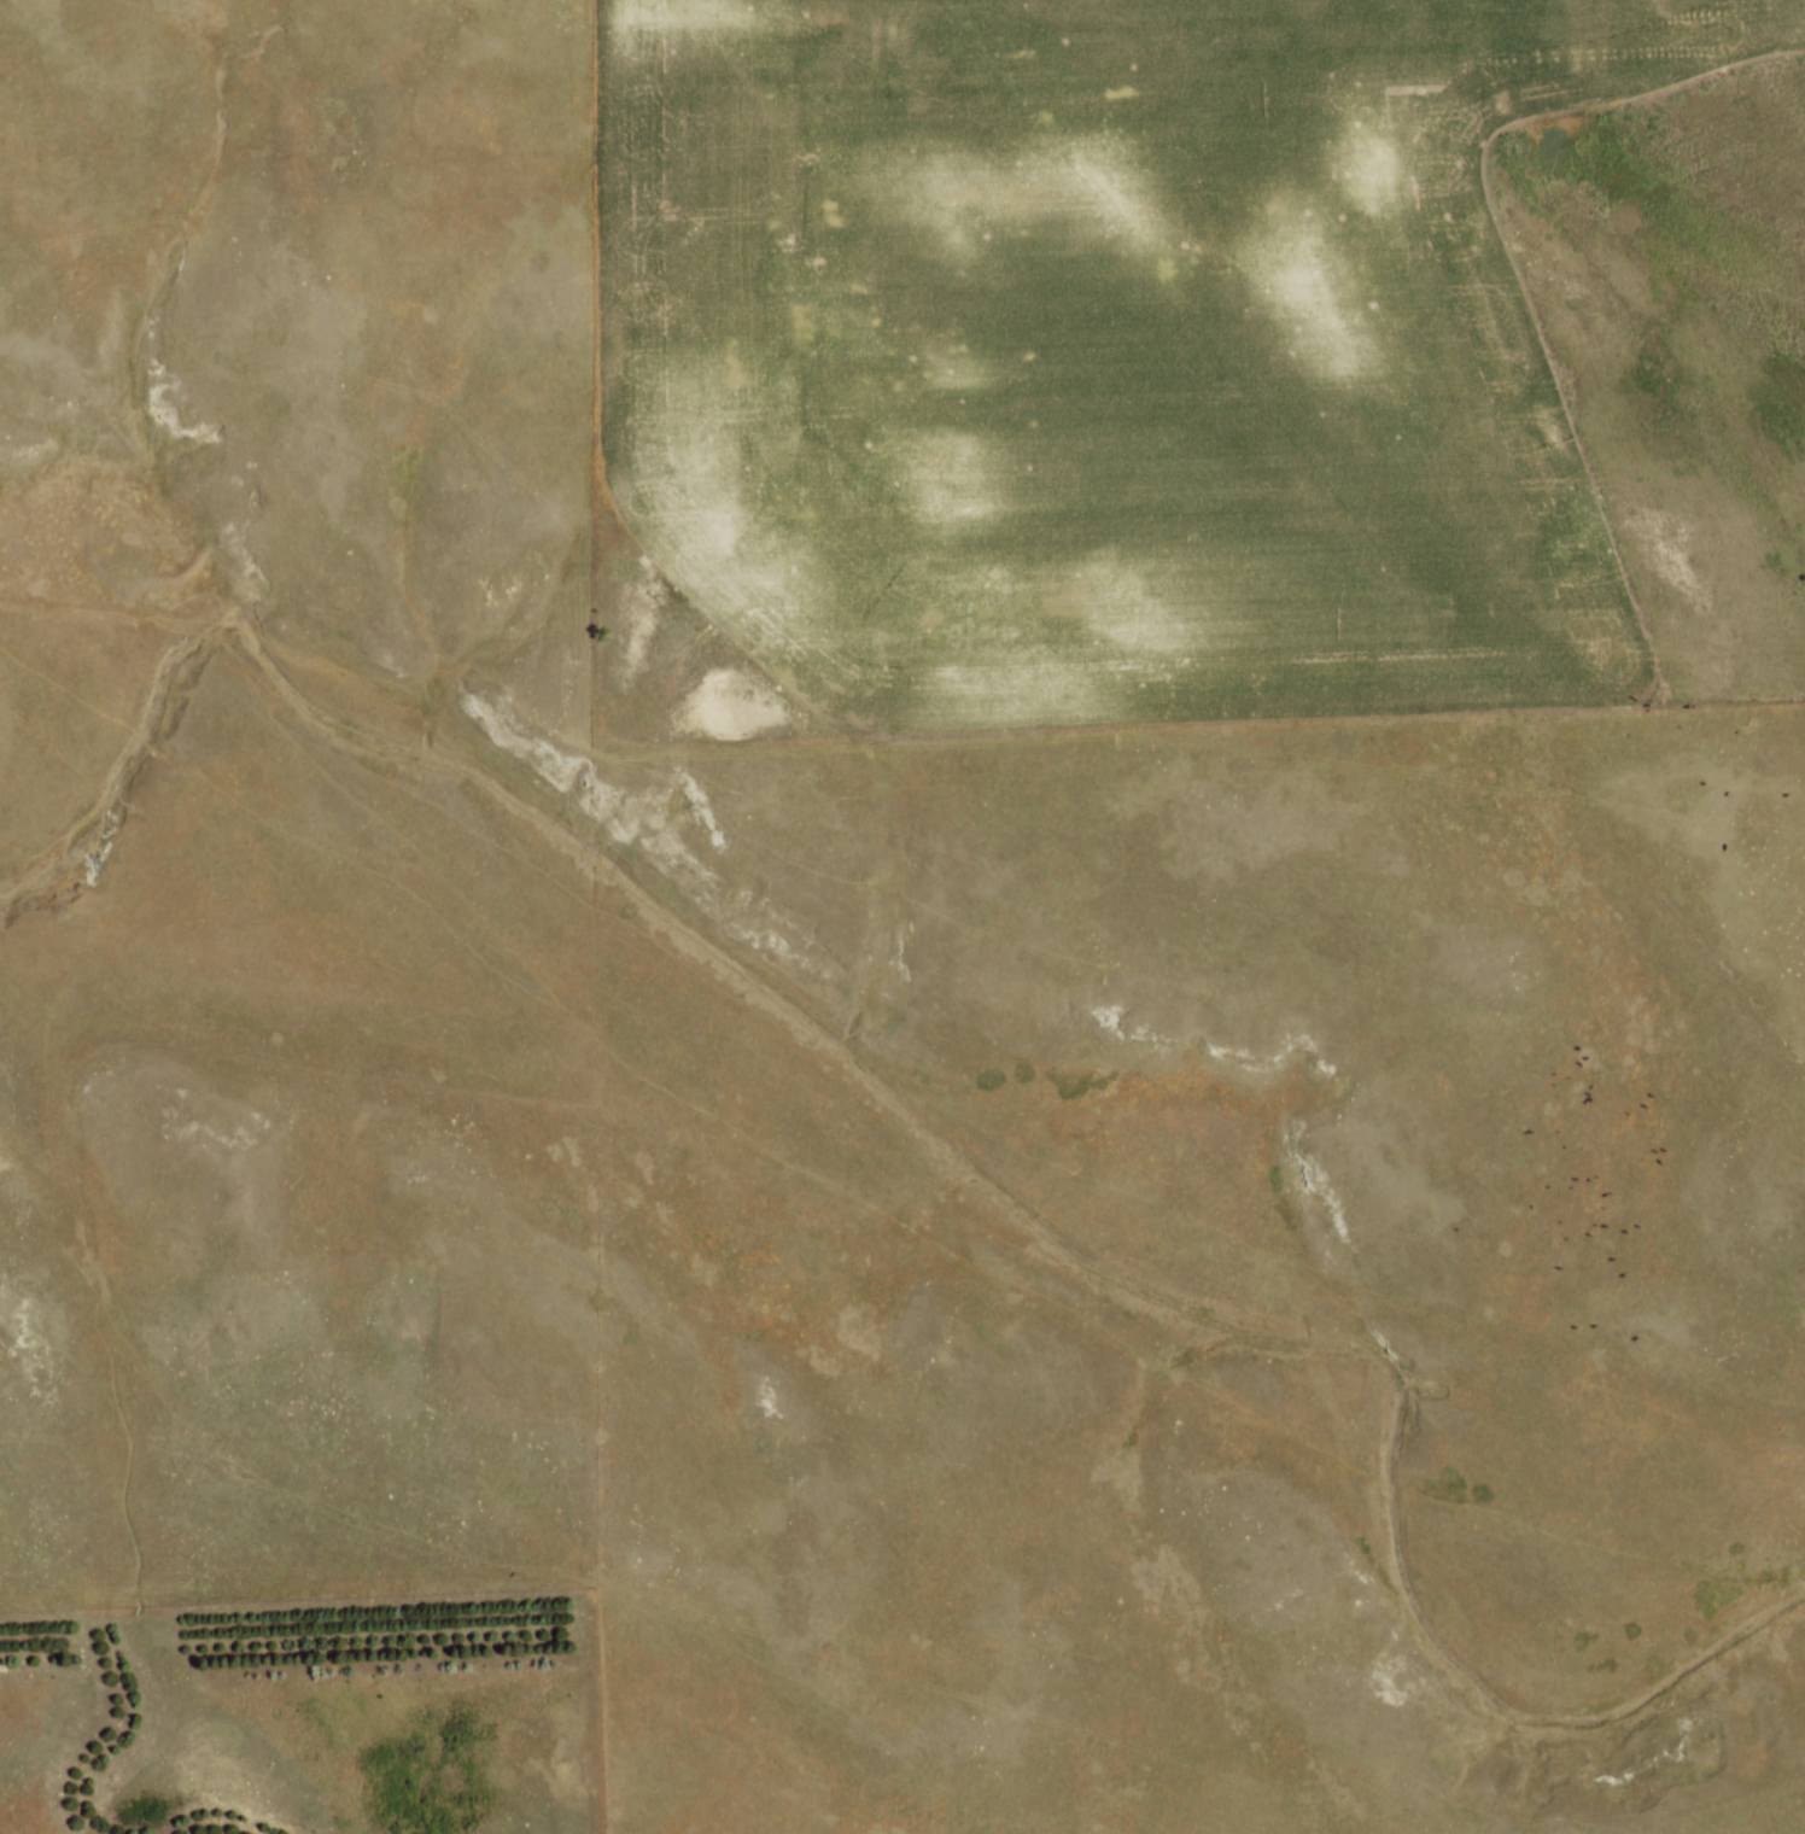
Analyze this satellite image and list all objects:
crop: (1110, 347)

